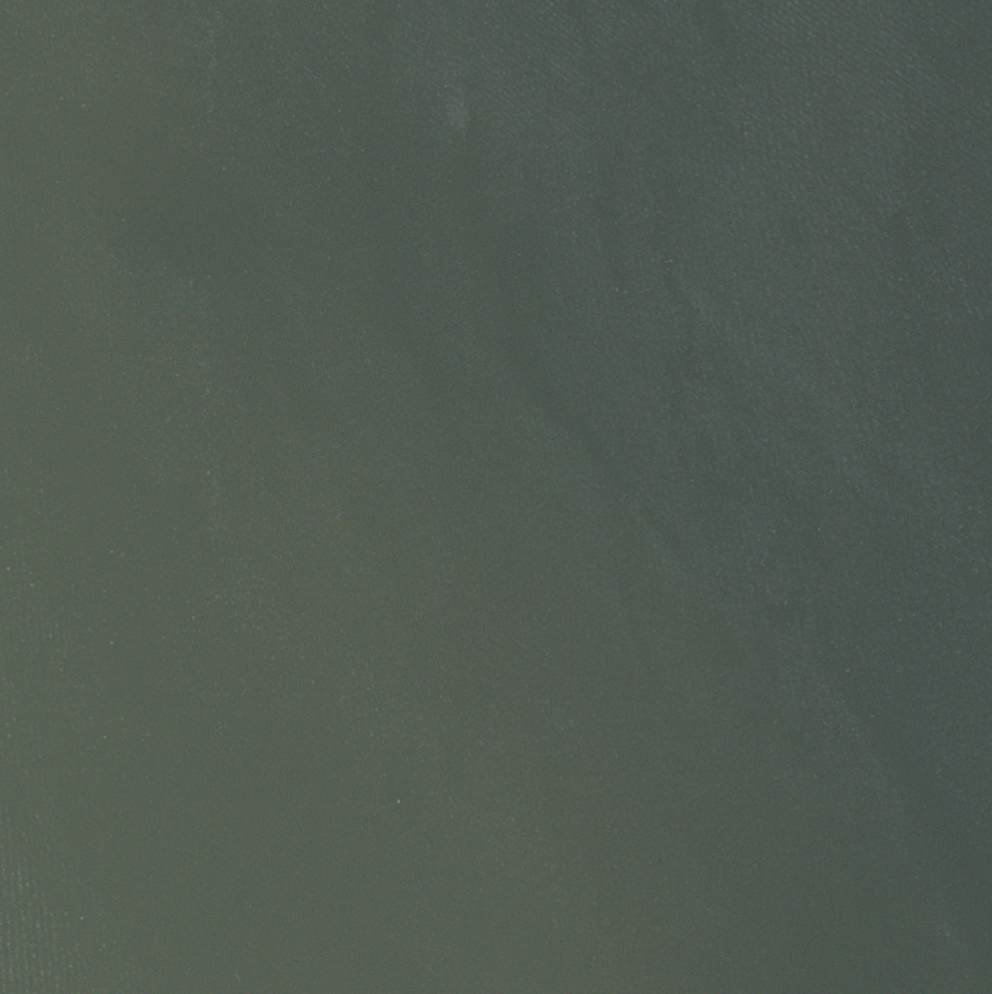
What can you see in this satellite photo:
river: (248, 497)

